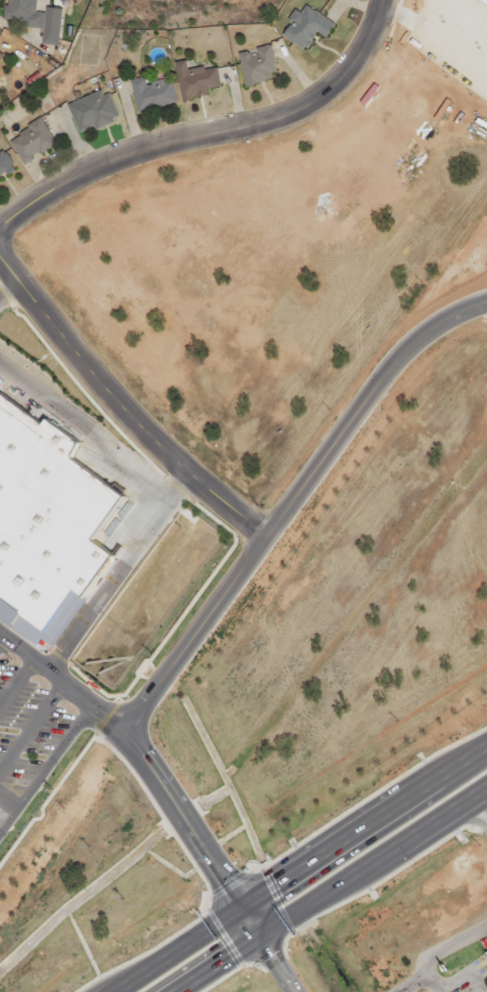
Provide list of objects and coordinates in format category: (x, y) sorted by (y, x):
building: (485, 0)
building: (33, 18)
building: (304, 26)
building: (0, 53)
building: (255, 64)
building: (195, 79)
building: (152, 93)
building: (89, 110)
road: (208, 134)
building: (29, 140)
building: (3, 163)
road: (121, 408)
road: (293, 504)
building: (46, 525)
road: (120, 573)
road: (1, 638)
road: (16, 682)
road: (65, 684)
road: (31, 726)
road: (54, 756)
road: (8, 800)
road: (478, 809)
road: (195, 834)
road: (371, 861)
road: (302, 869)
traffic signals: (240, 911)
traffic signals: (256, 938)
building: (485, 952)
road: (215, 965)
road: (272, 965)

